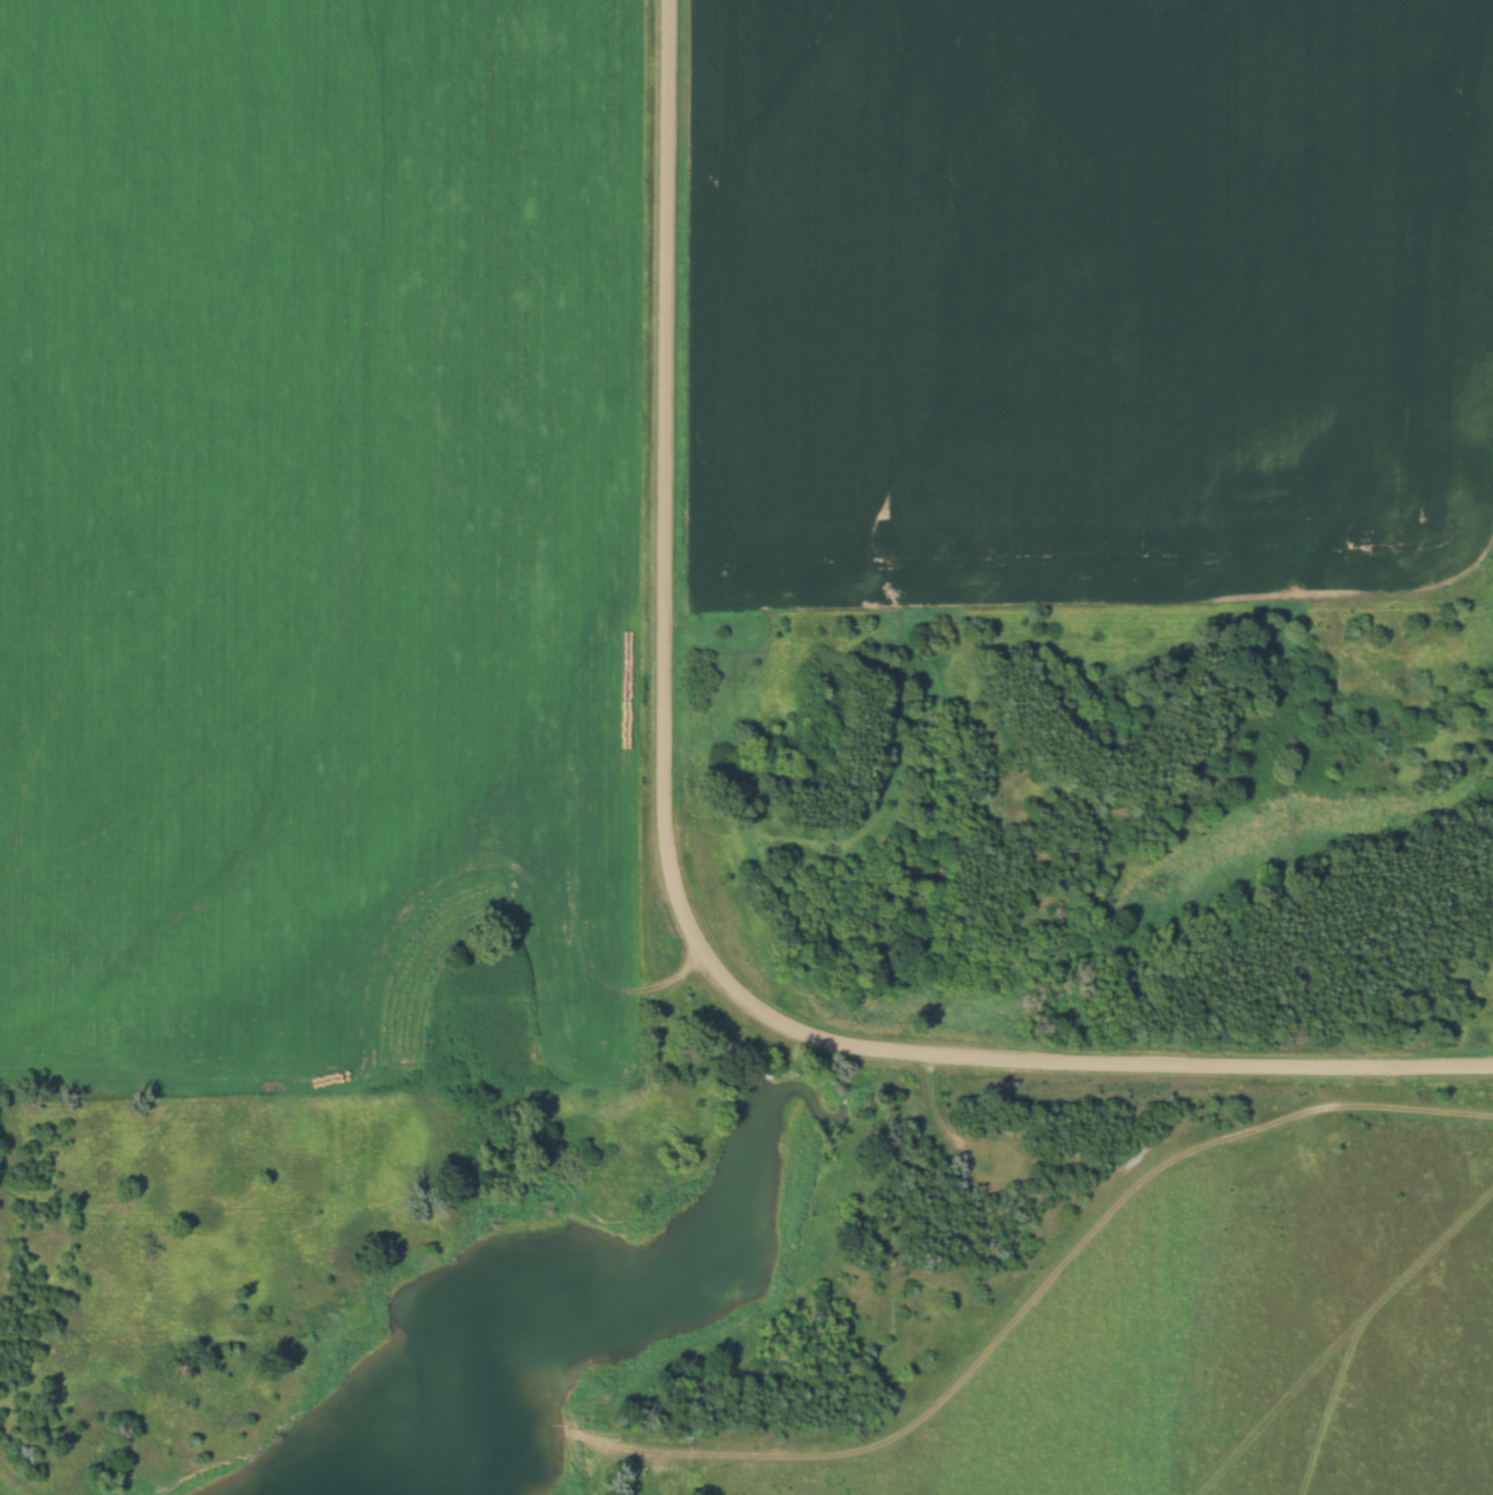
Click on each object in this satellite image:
road: (676, 895)
building: (1133, 1161)

